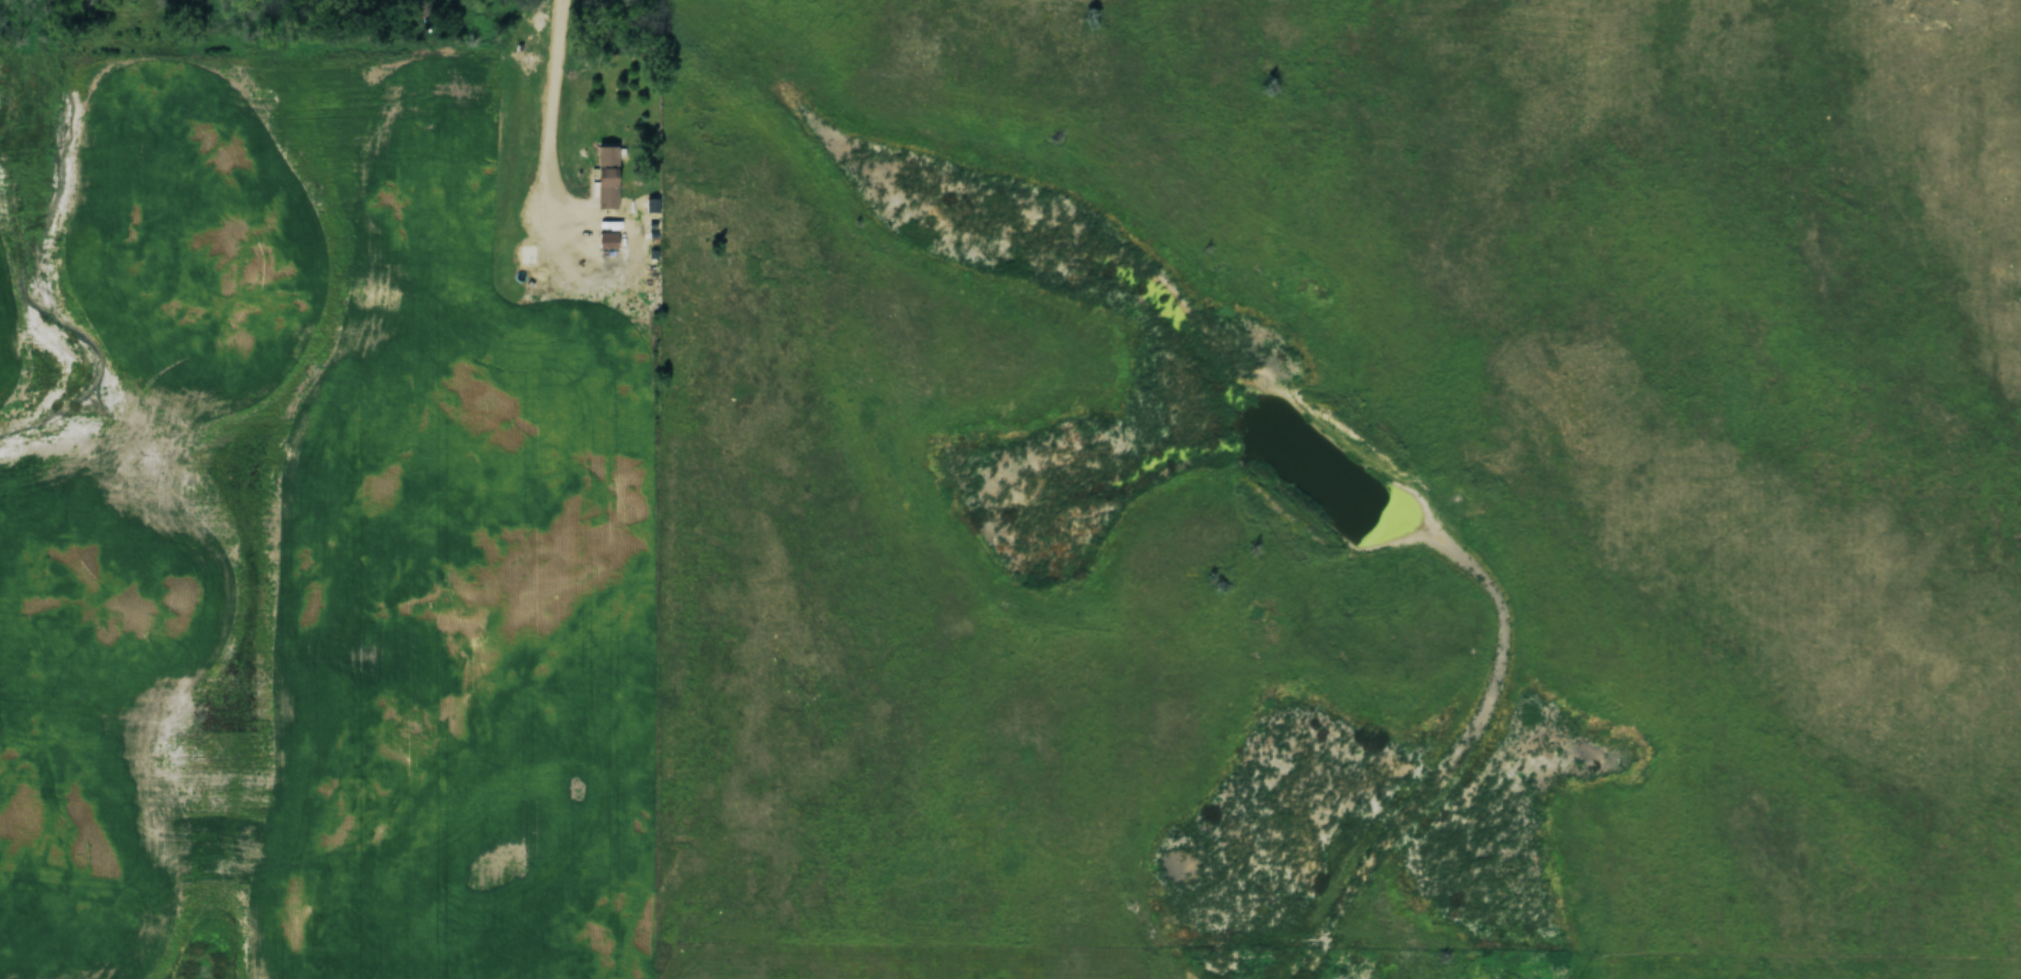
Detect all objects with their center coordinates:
road: (553, 150)
building: (610, 177)
building: (611, 240)

